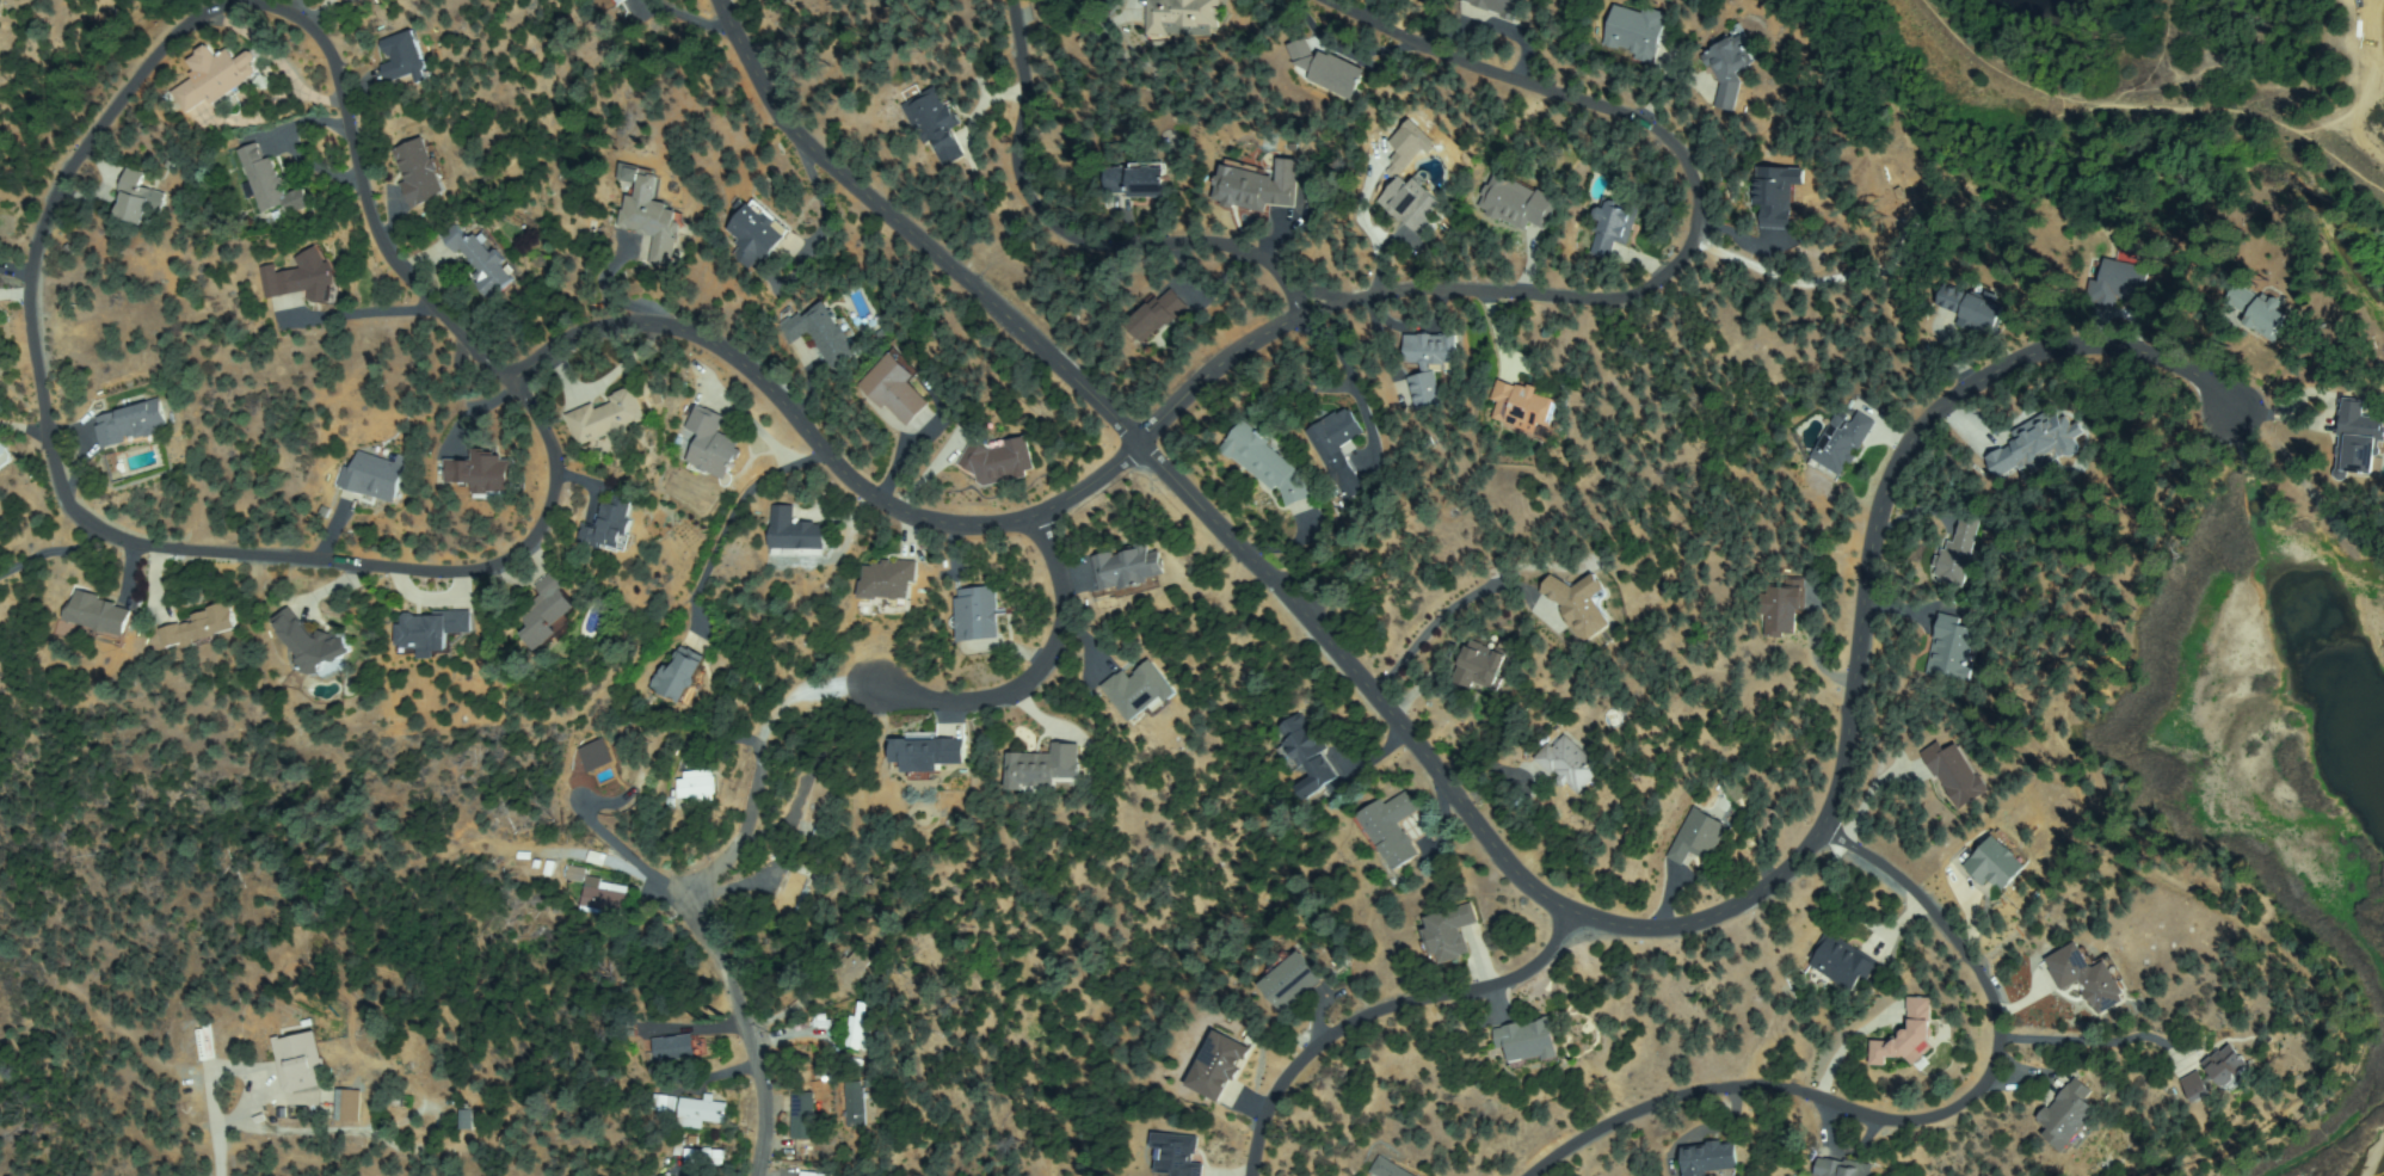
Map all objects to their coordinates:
building: (612, 1)
building: (621, 1)
building: (1504, 6)
building: (1182, 17)
road: (209, 21)
building: (1638, 31)
building: (404, 59)
building: (1730, 67)
building: (1327, 72)
building: (214, 78)
building: (935, 124)
building: (421, 172)
building: (261, 178)
building: (1135, 180)
building: (1258, 186)
building: (1778, 196)
building: (298, 198)
building: (136, 201)
building: (1517, 203)
building: (1410, 204)
building: (649, 214)
building: (1612, 226)
building: (756, 233)
road: (1057, 241)
building: (482, 261)
building: (306, 278)
building: (2119, 282)
road: (1656, 294)
building: (1973, 309)
building: (2259, 312)
building: (1156, 315)
building: (825, 333)
building: (1429, 363)
building: (894, 387)
building: (1522, 407)
building: (608, 417)
building: (130, 423)
building: (1335, 441)
building: (2357, 441)
building: (1841, 442)
building: (713, 444)
building: (2037, 444)
building: (5, 455)
building: (998, 462)
building: (1265, 463)
building: (482, 473)
building: (372, 478)
building: (608, 525)
building: (796, 535)
building: (1959, 552)
building: (1127, 569)
building: (888, 581)
building: (1579, 605)
building: (1782, 607)
building: (549, 611)
building: (978, 612)
building: (99, 616)
building: (201, 628)
building: (430, 633)
building: (312, 644)
building: (1951, 648)
building: (1481, 667)
building: (679, 677)
road: (1033, 688)
building: (1140, 691)
building: (1304, 753)
building: (929, 755)
building: (603, 759)
building: (1570, 764)
building: (1043, 769)
building: (1955, 774)
building: (697, 786)
road: (1442, 787)
building: (1768, 819)
building: (1390, 829)
building: (1696, 838)
building: (1996, 862)
road: (733, 869)
road: (344, 886)
building: (794, 888)
building: (606, 898)
building: (1446, 934)
building: (1841, 962)
building: (854, 967)
building: (2087, 977)
building: (1289, 980)
road: (1381, 1011)
building: (861, 1029)
building: (1908, 1036)
road: (746, 1039)
building: (1528, 1043)
building: (673, 1048)
building: (300, 1063)
building: (1216, 1067)
building: (2228, 1067)
building: (2195, 1088)
building: (660, 1102)
building: (349, 1106)
building: (802, 1106)
building: (855, 1107)
building: (703, 1113)
building: (467, 1117)
building: (2068, 1117)
road: (1917, 1129)
building: (706, 1157)
building: (1177, 1157)
building: (1710, 1160)
building: (1387, 1169)
building: (1843, 1169)
building: (807, 1172)

